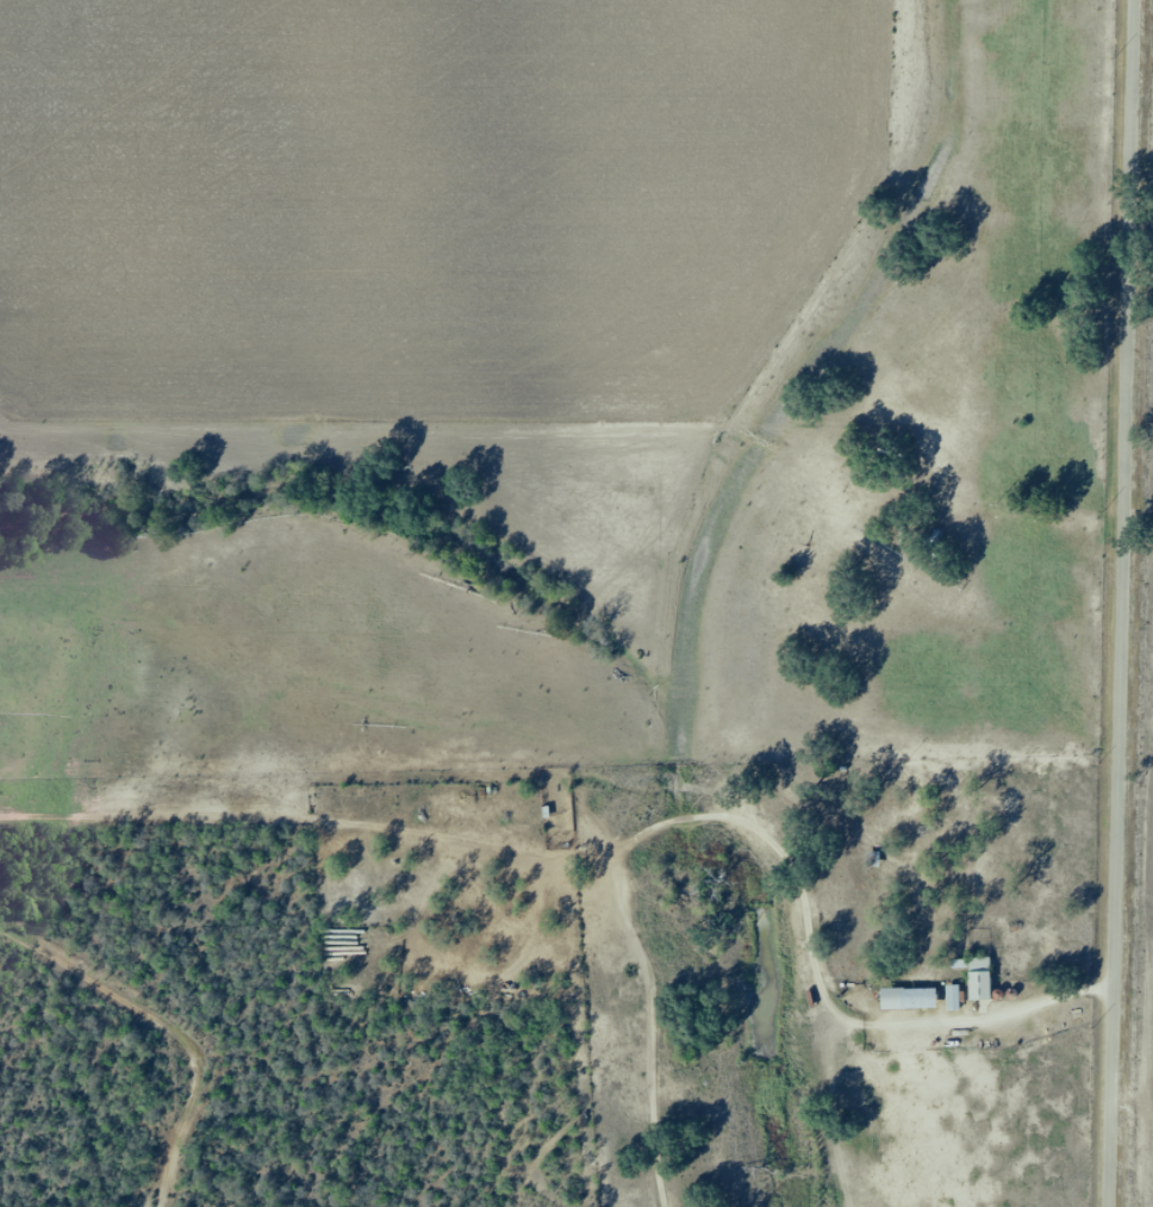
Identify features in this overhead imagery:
road: (1124, 603)
road: (1001, 794)
road: (748, 825)
building: (979, 979)
building: (953, 998)
building: (909, 1000)

